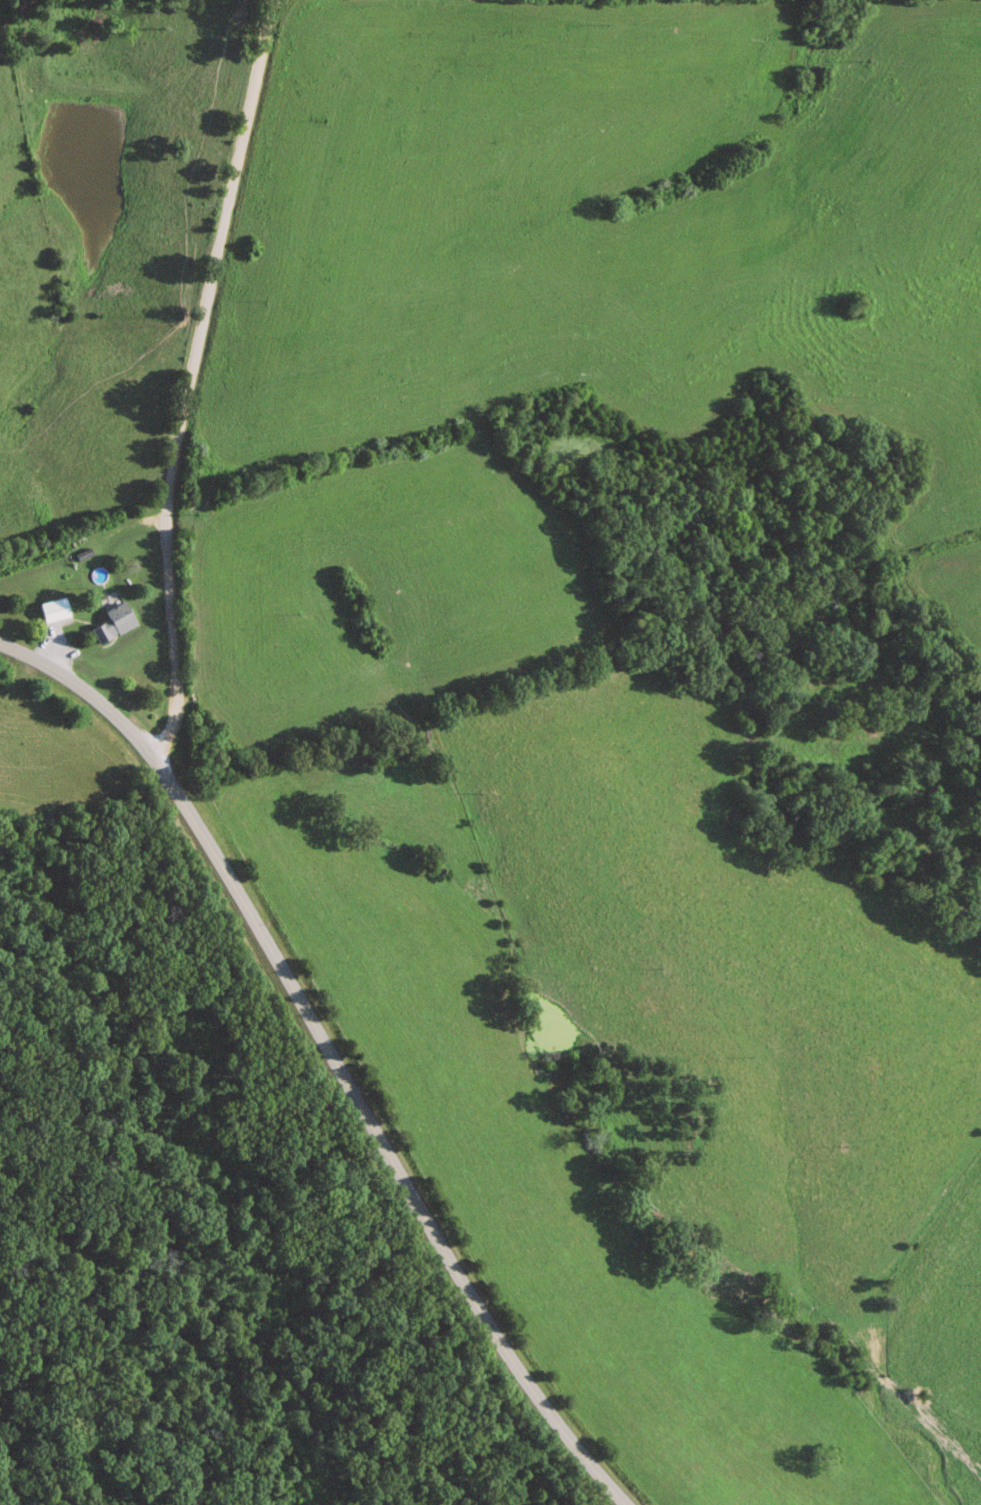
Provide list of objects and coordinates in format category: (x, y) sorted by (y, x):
road: (192, 378)
building: (52, 611)
building: (109, 623)
road: (328, 1057)

